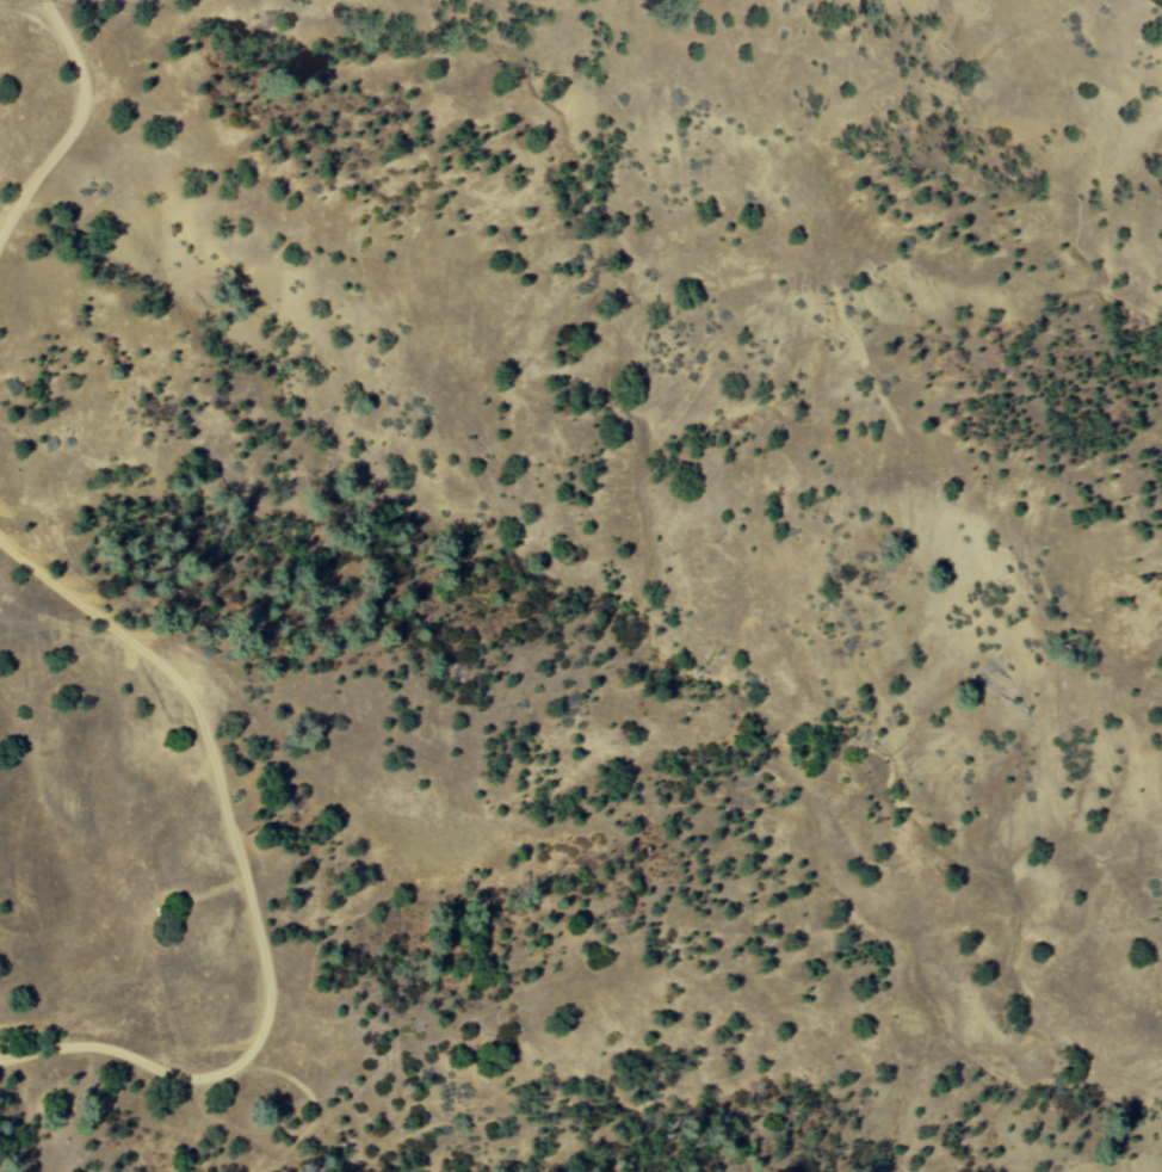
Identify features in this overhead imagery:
road: (82, 137)
road: (254, 871)

